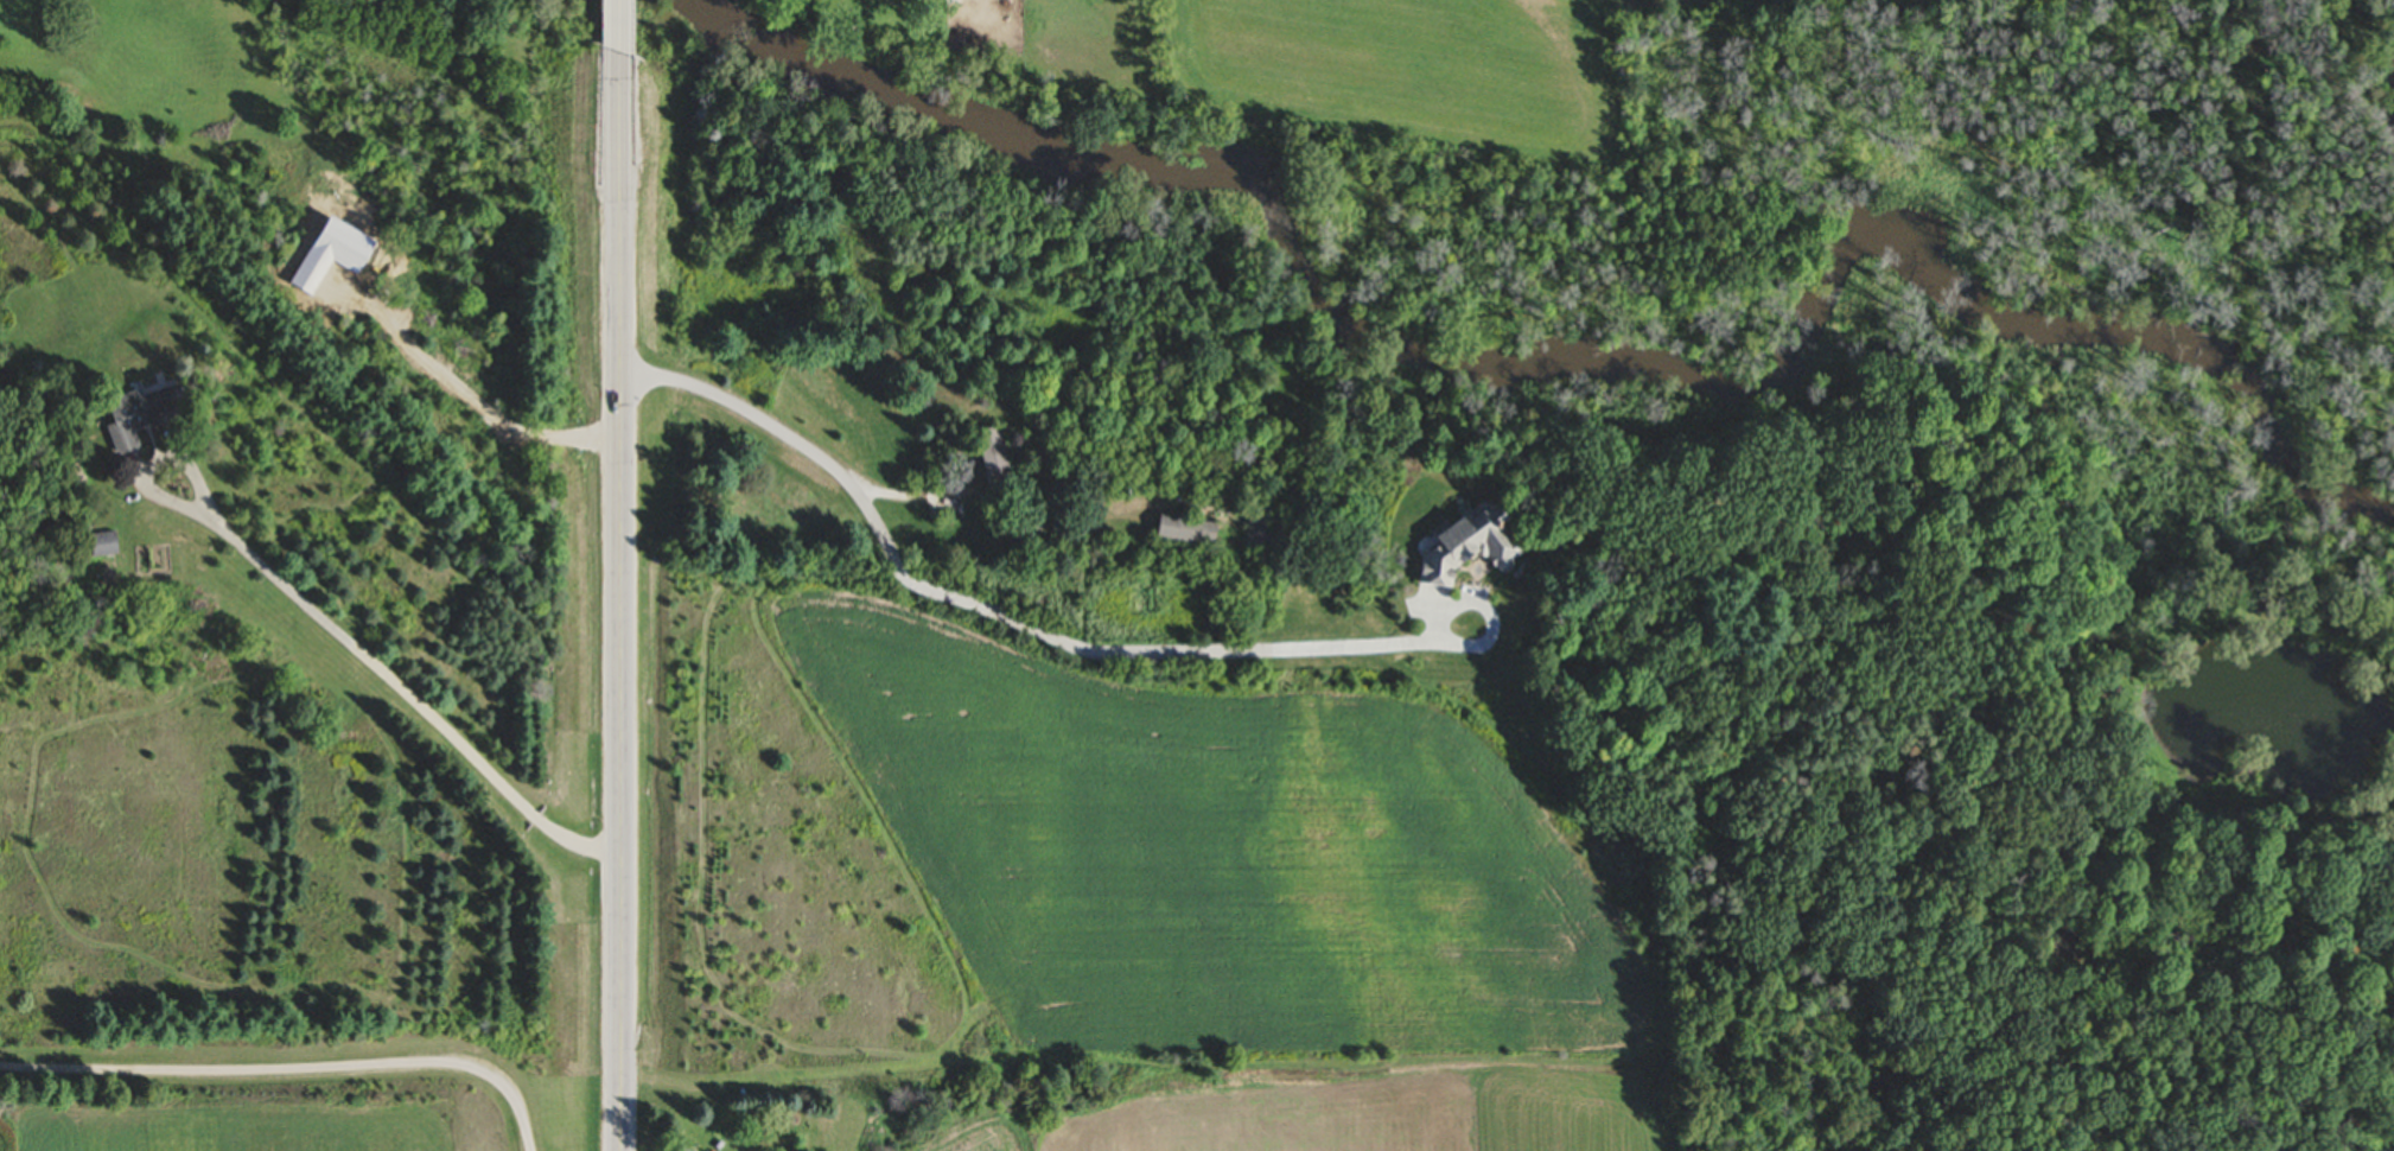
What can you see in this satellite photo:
building: (992, 0)
road: (623, 27)
river: (1553, 365)
building: (148, 414)
building: (998, 460)
building: (1178, 532)
building: (1250, 534)
building: (1460, 543)
building: (109, 545)
road: (623, 603)
road: (1064, 640)
road: (408, 692)
road: (294, 1058)

